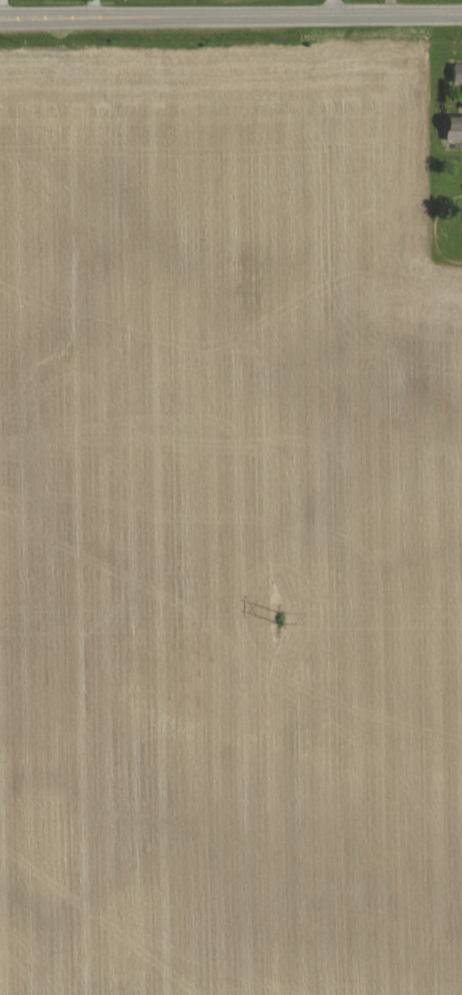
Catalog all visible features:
road: (327, 5)
road: (230, 11)
building: (457, 75)
building: (455, 127)

